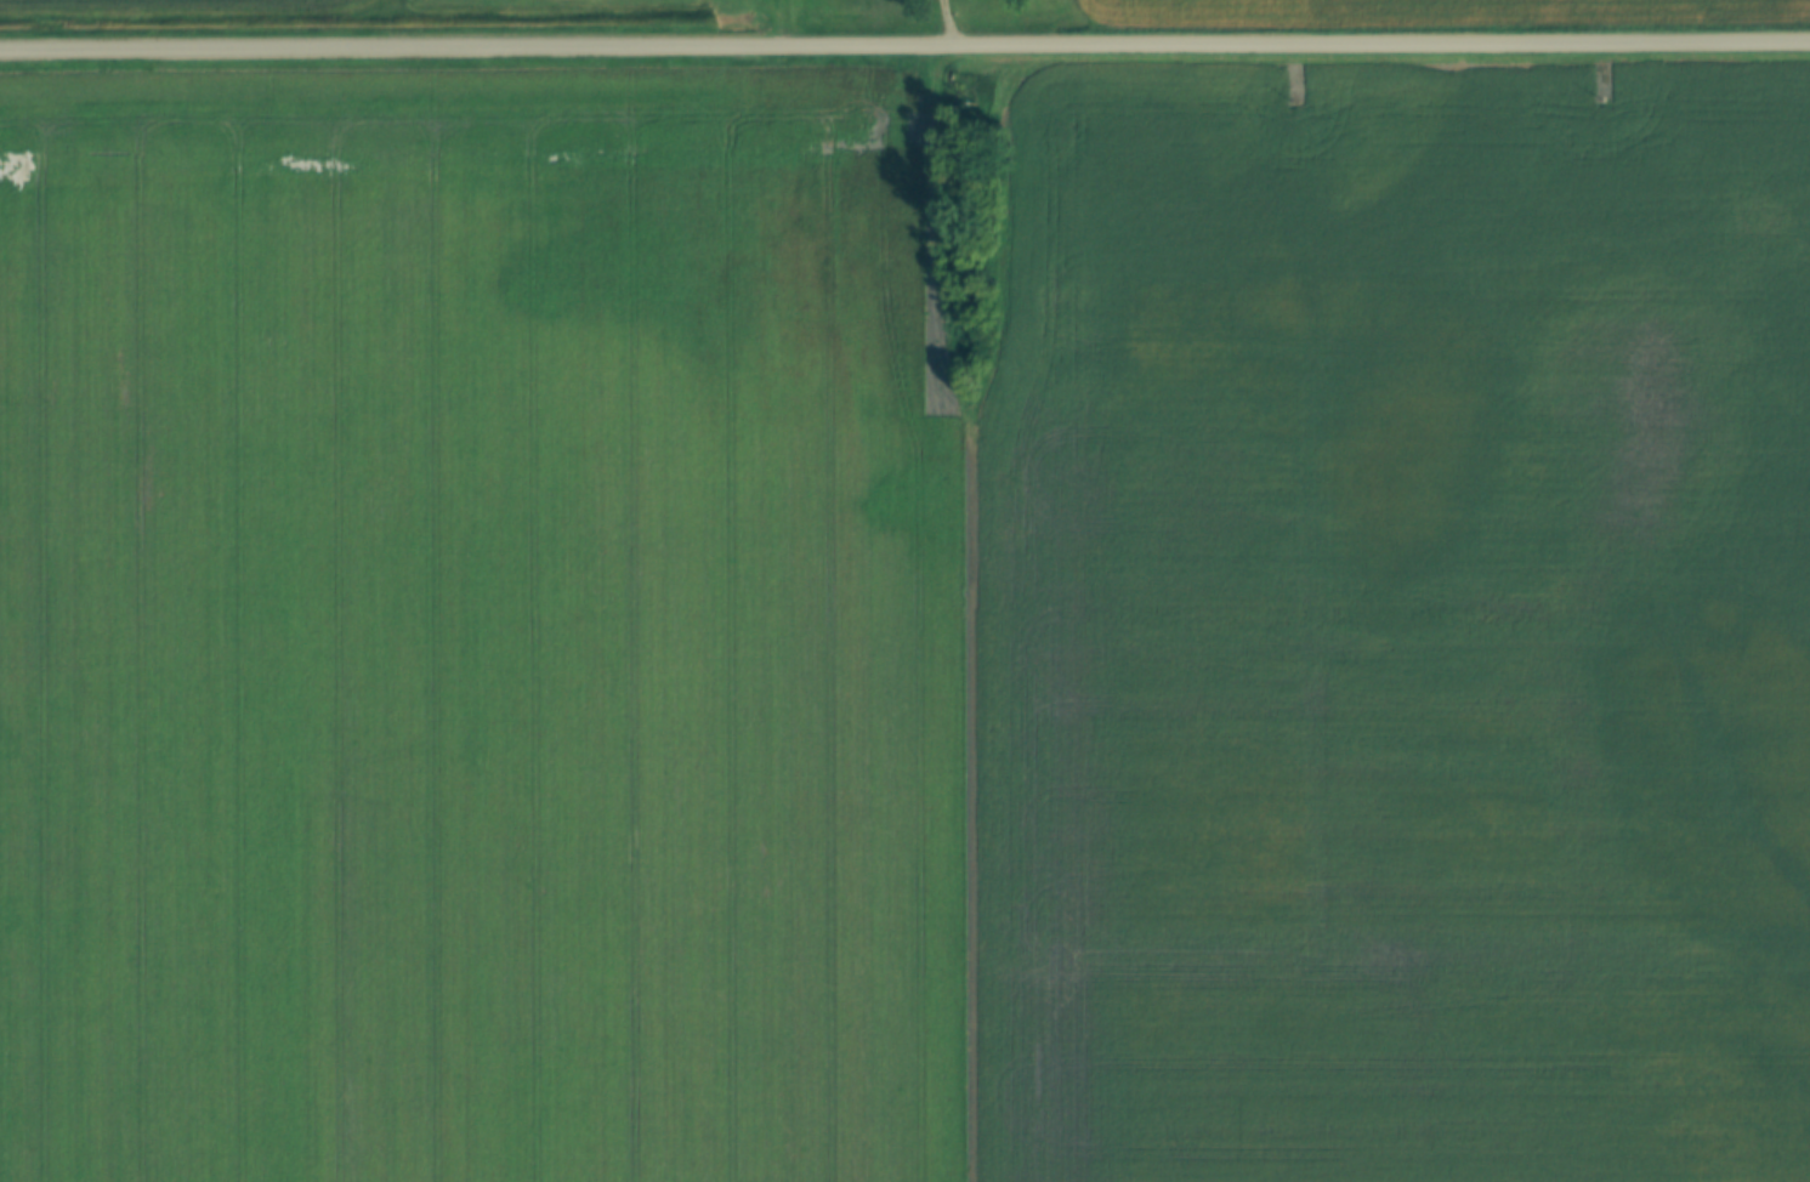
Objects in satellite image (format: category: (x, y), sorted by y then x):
road: (783, 21)
road: (942, 21)
road: (904, 42)

